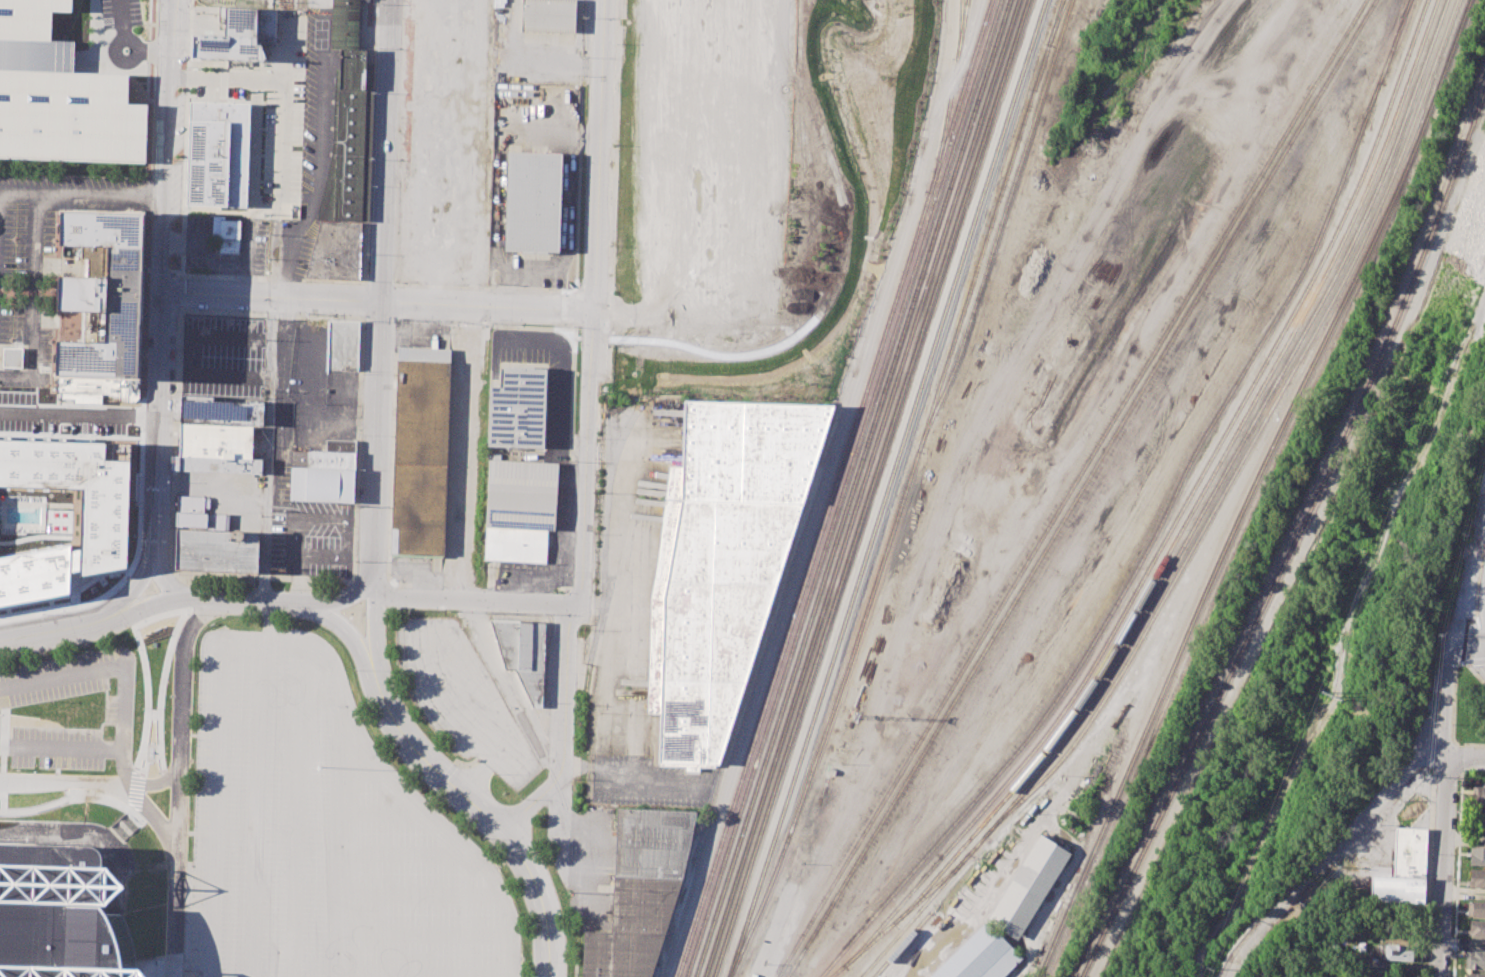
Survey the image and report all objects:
building: (548, 15)
railway: (1056, 21)
railway: (960, 29)
building: (238, 36)
railway: (1433, 38)
road: (124, 45)
road: (287, 47)
building: (60, 95)
railway: (949, 96)
road: (281, 111)
building: (348, 121)
road: (255, 142)
road: (162, 148)
building: (217, 154)
parking lot: (749, 161)
road: (315, 166)
road: (80, 195)
building: (533, 202)
road: (265, 203)
railway: (999, 227)
building: (226, 233)
road: (246, 250)
building: (336, 251)
parking lot: (49, 267)
road: (382, 291)
building: (105, 294)
road: (374, 304)
road: (515, 339)
building: (342, 345)
building: (12, 357)
road: (34, 360)
building: (97, 389)
road: (563, 401)
building: (518, 408)
road: (77, 410)
building: (220, 411)
road: (153, 427)
road: (584, 428)
railway: (1255, 437)
building: (215, 440)
building: (340, 445)
road: (267, 450)
building: (421, 451)
road: (465, 454)
building: (322, 459)
building: (220, 464)
railway: (1207, 483)
building: (322, 485)
railway: (1252, 486)
road: (823, 487)
railway: (833, 488)
railway: (843, 488)
railway: (851, 488)
railway: (860, 488)
railway: (870, 488)
railway: (886, 488)
railway: (1073, 488)
railway: (1082, 488)
railway: (904, 491)
building: (521, 494)
building: (194, 504)
building: (65, 507)
railway: (1164, 517)
railway: (1177, 518)
building: (203, 521)
parking lot: (311, 538)
railway: (1296, 538)
building: (515, 544)
building: (216, 551)
railway: (1180, 551)
building: (727, 559)
road: (167, 579)
road: (131, 589)
road: (1467, 589)
road: (1482, 596)
road: (347, 597)
road: (255, 599)
road: (474, 601)
road: (147, 603)
road: (373, 622)
road: (52, 625)
road: (349, 632)
road: (137, 633)
road: (269, 636)
road: (1481, 646)
building: (524, 652)
road: (1480, 655)
road: (1474, 660)
road: (146, 675)
road: (179, 677)
road: (1445, 691)
road: (161, 694)
power tower: (1326, 694)
parking lot: (460, 697)
road: (1453, 704)
parking lot: (68, 711)
road: (3, 757)
road: (1463, 757)
road: (1461, 759)
road: (481, 773)
road: (629, 773)
road: (1, 782)
road: (88, 785)
building: (1478, 796)
road: (1379, 799)
road: (123, 804)
road: (256, 806)
building: (55, 807)
road: (295, 807)
road: (382, 811)
road: (480, 811)
road: (439, 823)
building: (1478, 823)
road: (145, 831)
parking lot: (322, 834)
road: (127, 836)
road: (405, 852)
building: (1410, 852)
building: (1477, 855)
building: (1364, 862)
road: (191, 864)
road: (1441, 866)
road: (1456, 874)
building: (1477, 877)
road: (172, 882)
building: (1028, 886)
building: (1396, 889)
road: (419, 891)
building: (640, 891)
road: (124, 898)
building: (1476, 909)
railway: (906, 911)
building: (61, 915)
stadium: (61, 915)
road: (1272, 915)
building: (1476, 929)
road: (424, 932)
railway: (902, 944)
building: (1392, 953)
building: (980, 956)
building: (1475, 960)
power tower: (1207, 969)
road: (424, 972)
building: (753, 975)
building: (1474, 975)

